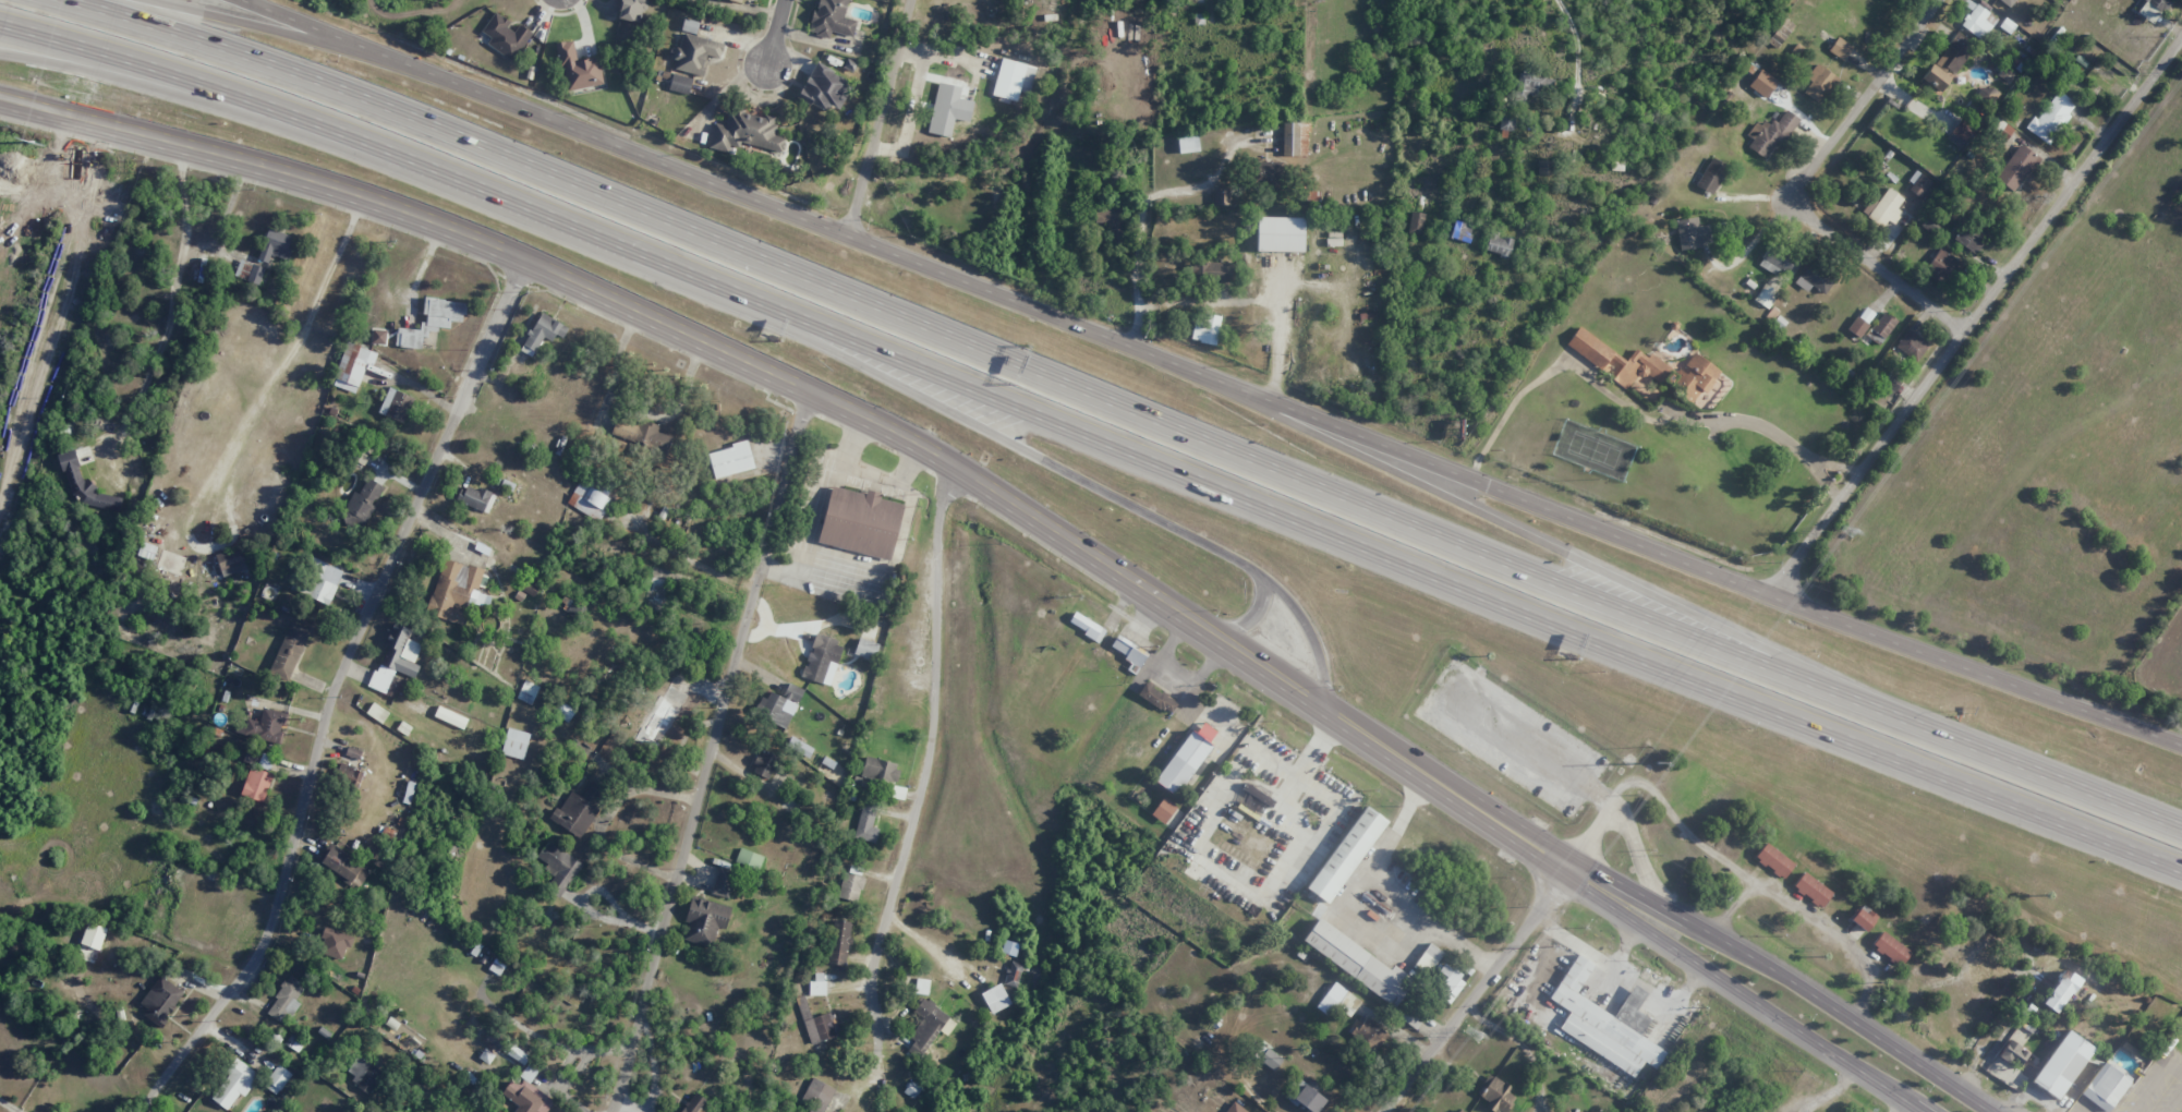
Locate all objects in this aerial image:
building: (737, 0)
building: (2008, 2)
building: (2160, 4)
building: (632, 10)
building: (832, 19)
building: (1978, 21)
building: (689, 26)
road: (777, 31)
building: (1780, 33)
road: (279, 34)
building: (506, 36)
building: (1840, 48)
building: (1797, 50)
building: (695, 53)
building: (1953, 53)
building: (578, 68)
road: (118, 73)
building: (1016, 74)
building: (1935, 77)
building: (1819, 82)
building: (680, 84)
building: (1530, 85)
building: (825, 88)
building: (1985, 95)
building: (953, 112)
building: (2051, 117)
road: (884, 120)
road: (549, 121)
building: (1506, 122)
building: (1962, 130)
building: (744, 132)
building: (1771, 133)
building: (1295, 138)
power tower: (31, 142)
building: (1188, 144)
building: (1544, 167)
building: (2017, 167)
building: (1268, 173)
building: (1711, 176)
road: (1809, 182)
building: (1918, 184)
building: (1883, 208)
building: (1416, 222)
building: (1112, 223)
building: (1930, 225)
building: (1460, 231)
building: (1692, 233)
building: (1280, 234)
building: (1969, 238)
building: (1499, 244)
building: (276, 245)
building: (1774, 261)
building: (1943, 266)
building: (243, 269)
building: (1195, 269)
building: (1216, 271)
building: (256, 274)
building: (1815, 279)
building: (1766, 295)
road: (1973, 310)
building: (431, 322)
building: (1860, 322)
building: (1881, 327)
building: (1205, 329)
building: (544, 330)
building: (1911, 346)
building: (1621, 361)
building: (353, 366)
building: (1695, 378)
road: (823, 402)
building: (396, 404)
road: (1111, 406)
building: (640, 434)
road: (1095, 437)
road: (1009, 443)
building: (730, 460)
building: (85, 484)
road: (1517, 494)
building: (475, 498)
building: (589, 500)
building: (362, 504)
building: (860, 522)
power tower: (1845, 530)
building: (147, 551)
building: (231, 563)
road: (1600, 567)
building: (456, 591)
road: (1248, 616)
building: (1087, 626)
building: (865, 649)
building: (289, 650)
building: (1129, 652)
building: (821, 657)
building: (396, 661)
road: (331, 692)
building: (528, 692)
building: (1157, 698)
building: (778, 705)
building: (377, 712)
building: (660, 716)
building: (265, 726)
building: (1207, 730)
parking lot: (1508, 735)
building: (514, 744)
building: (799, 746)
road: (1525, 749)
building: (353, 752)
road: (708, 752)
building: (251, 758)
building: (764, 764)
road: (922, 764)
building: (1187, 765)
building: (880, 769)
building: (349, 775)
building: (256, 784)
building: (594, 794)
building: (1254, 799)
building: (1163, 810)
building: (573, 814)
building: (866, 823)
road: (1590, 837)
road: (1638, 853)
building: (1349, 855)
building: (749, 858)
building: (1778, 862)
building: (342, 867)
building: (558, 867)
building: (723, 882)
building: (850, 886)
building: (1815, 892)
building: (1864, 918)
building: (704, 920)
building: (335, 942)
road: (922, 942)
building: (838, 943)
power tower: (1552, 946)
building: (1894, 951)
building: (1359, 965)
building: (1437, 971)
building: (1013, 974)
road: (1784, 979)
building: (817, 983)
building: (921, 986)
road: (1476, 990)
building: (2060, 991)
road: (1742, 993)
building: (995, 998)
building: (160, 1000)
building: (286, 1001)
building: (1338, 1001)
building: (817, 1023)
building: (1605, 1023)
building: (926, 1026)
building: (1370, 1032)
power tower: (1474, 1034)
building: (518, 1054)
building: (2012, 1054)
building: (1269, 1057)
building: (2064, 1066)
building: (363, 1074)
building: (277, 1079)
building: (234, 1084)
building: (2104, 1087)
building: (911, 1089)
building: (1496, 1093)
building: (526, 1095)
building: (815, 1097)
building: (1307, 1098)
building: (694, 1103)
building: (1235, 1108)
building: (1459, 1110)
building: (675, 1111)
building: (1580, 1111)

